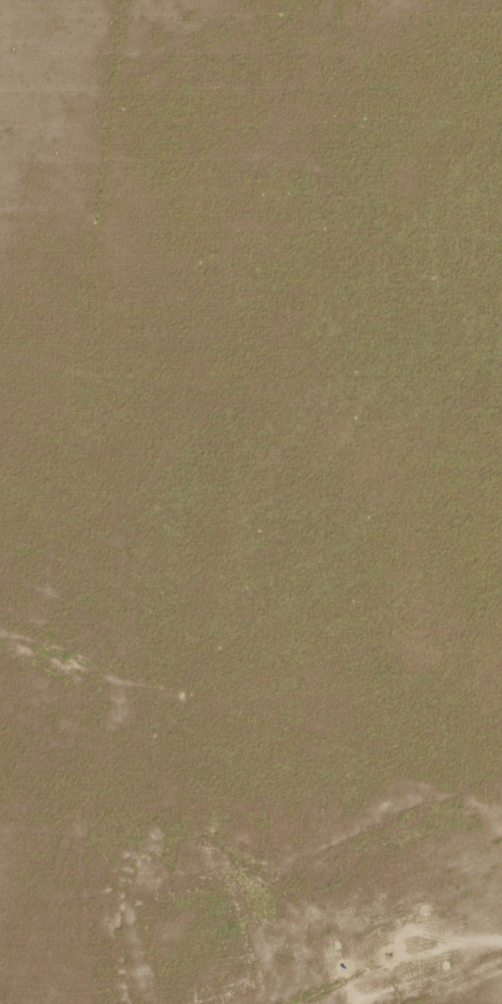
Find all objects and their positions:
road: (465, 949)

